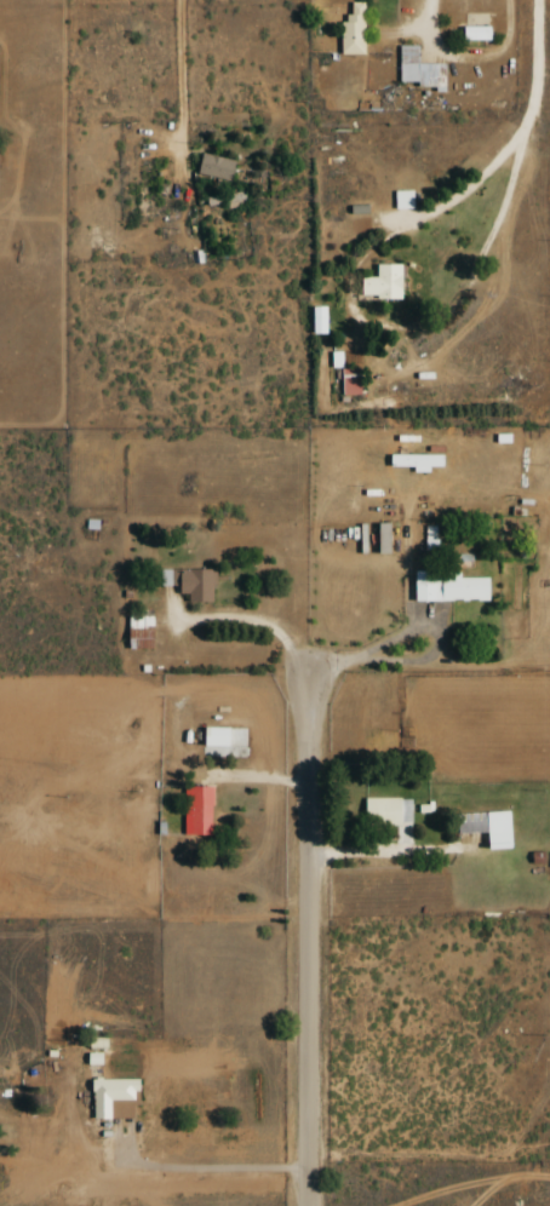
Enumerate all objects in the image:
building: (353, 31)
building: (475, 34)
building: (419, 70)
building: (214, 167)
building: (227, 199)
building: (403, 200)
building: (382, 283)
building: (317, 321)
building: (336, 360)
building: (350, 381)
building: (416, 463)
building: (382, 538)
building: (430, 538)
building: (190, 584)
building: (448, 587)
building: (139, 632)
building: (214, 736)
building: (197, 810)
building: (388, 811)
building: (497, 829)
road: (310, 894)
building: (113, 1098)

